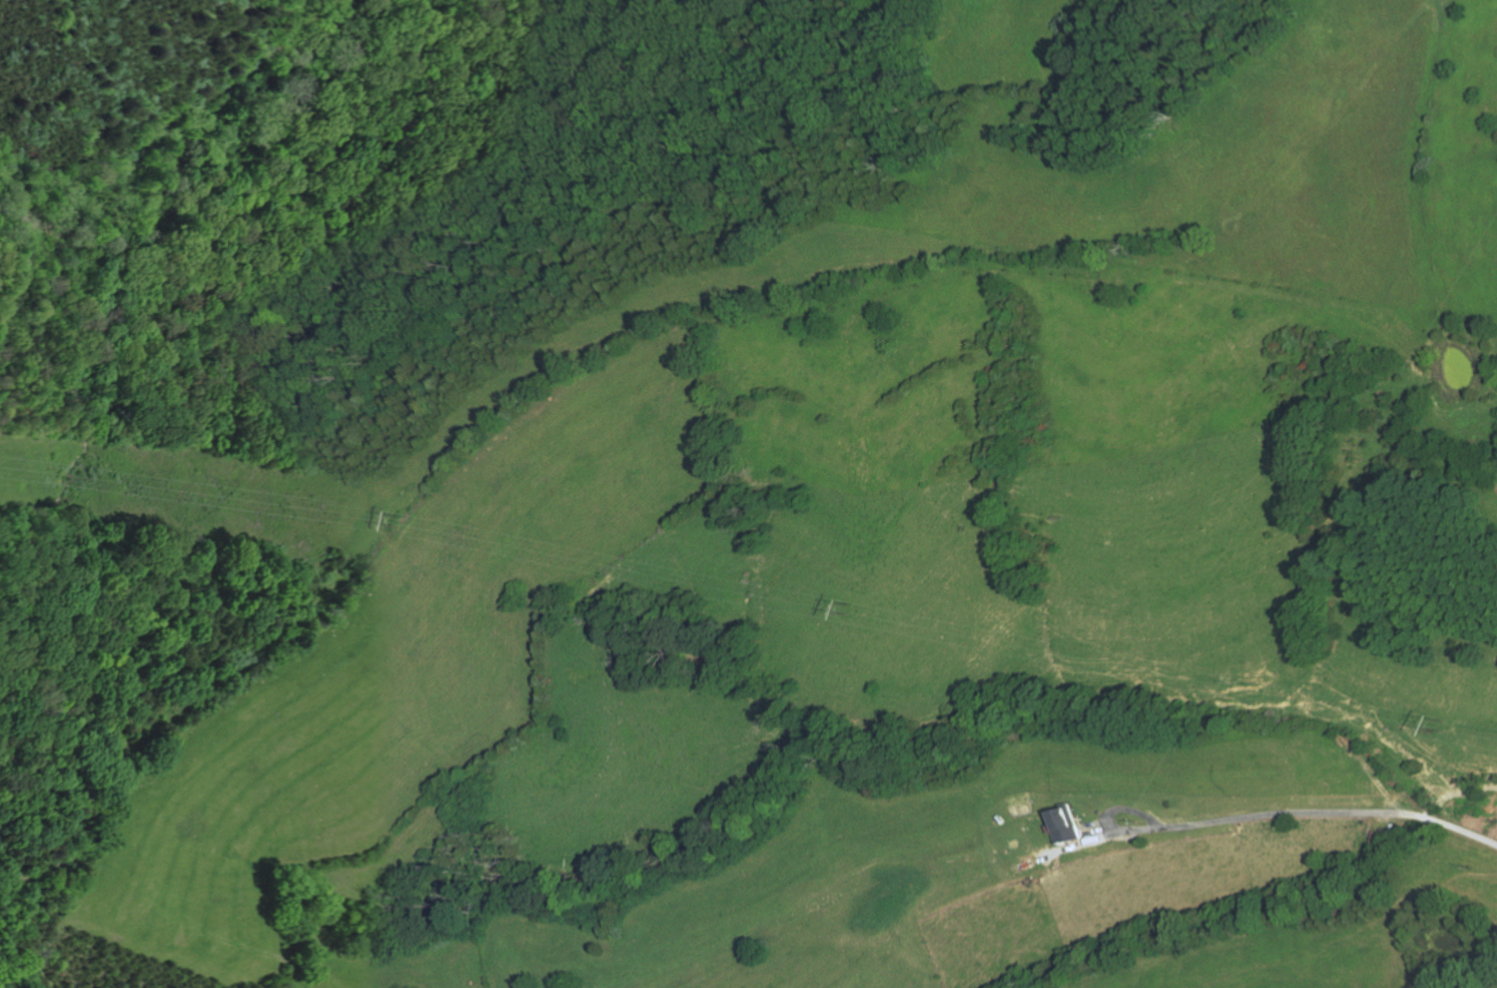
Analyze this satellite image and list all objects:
power tower: (399, 520)
power tower: (847, 607)
power tower: (1438, 721)
road: (1134, 809)
road: (1275, 815)
building: (1008, 818)
road: (1086, 823)
building: (1069, 824)
road: (1100, 828)
road: (1486, 982)

